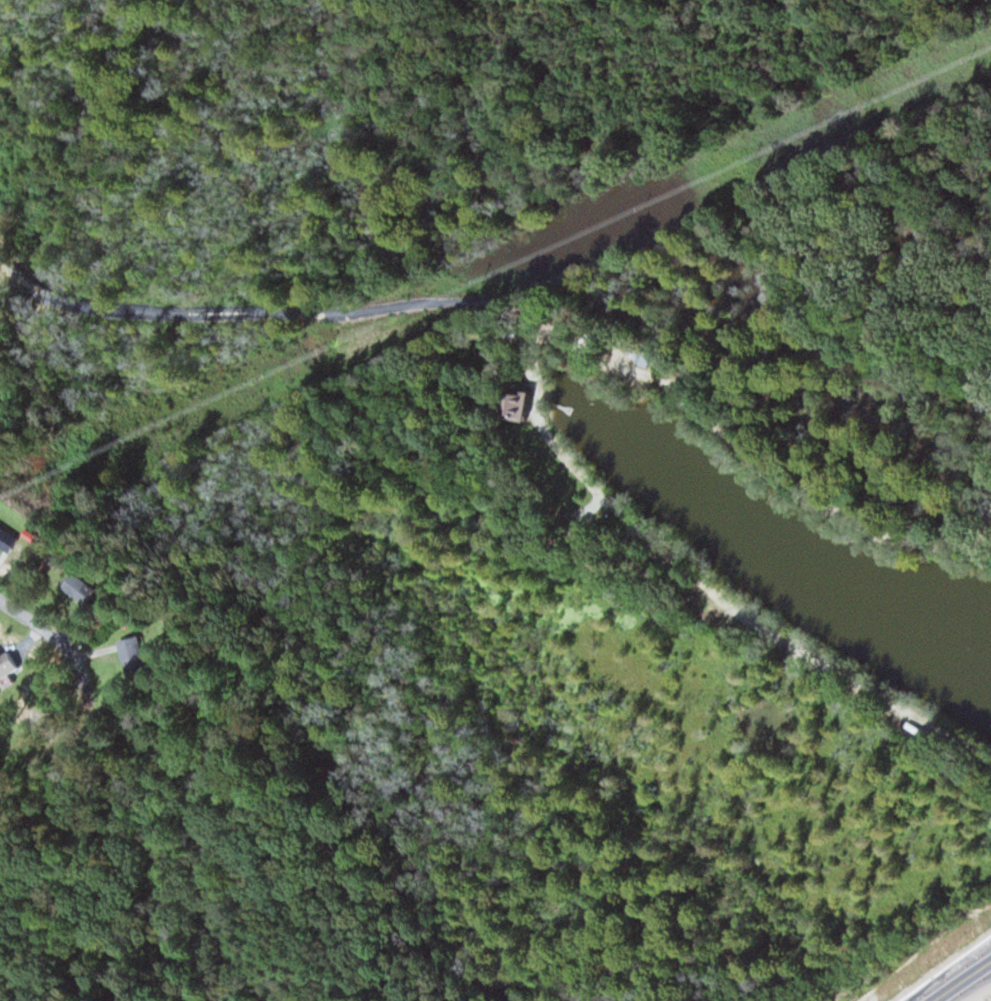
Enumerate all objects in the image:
building: (529, 403)
building: (9, 537)
building: (84, 587)
road: (39, 619)
building: (137, 655)
building: (10, 664)
road: (964, 975)
road: (964, 982)
road: (932, 997)

